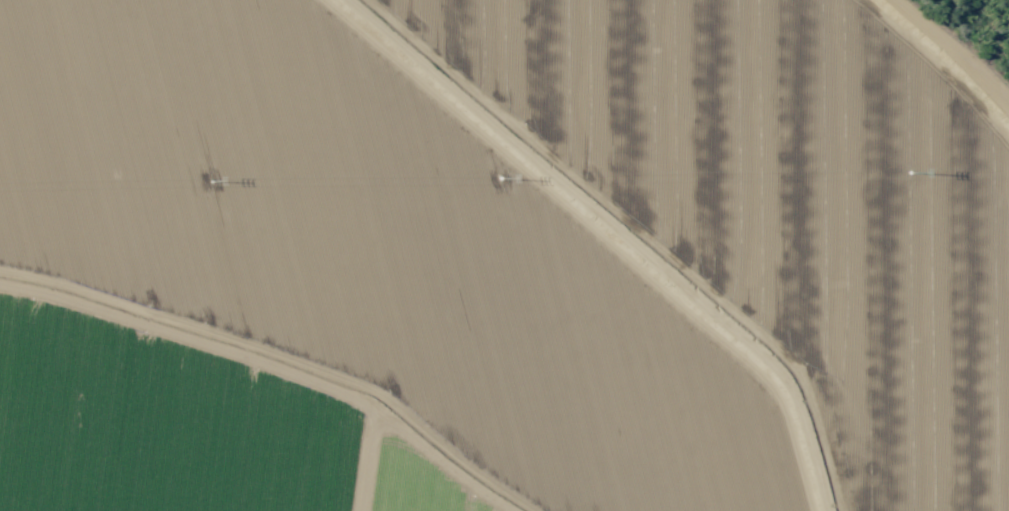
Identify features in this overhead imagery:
crop: (498, 258)

